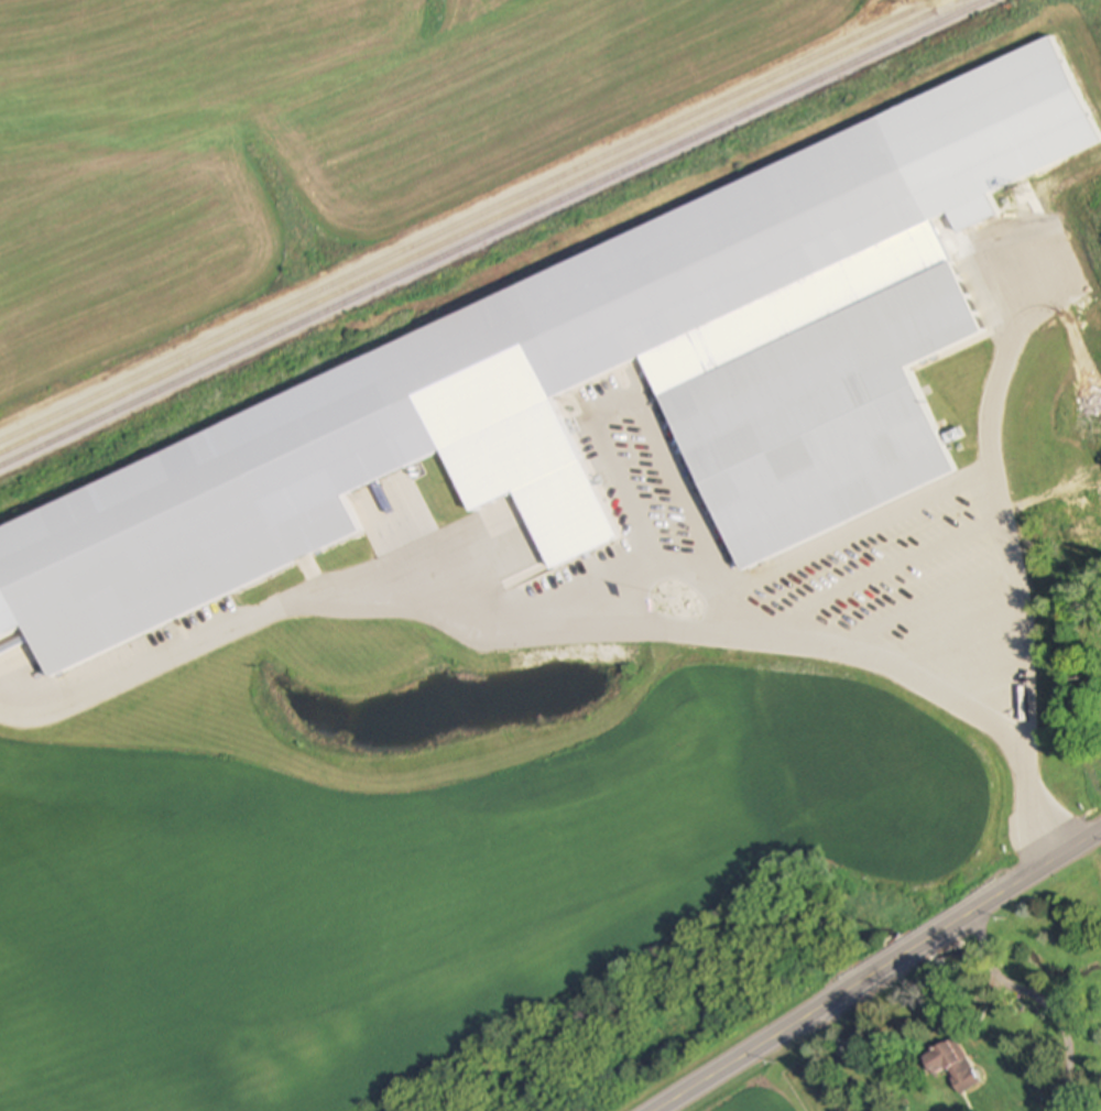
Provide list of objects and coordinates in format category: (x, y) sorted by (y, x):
railway: (480, 227)
railway: (491, 231)
building: (526, 415)
road: (685, 564)
road: (879, 969)
building: (951, 1066)

